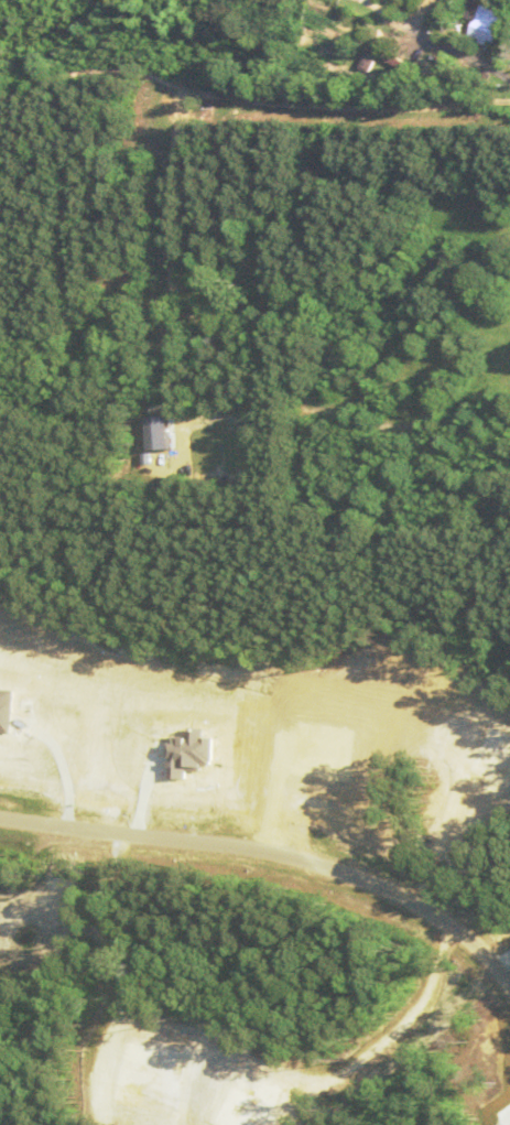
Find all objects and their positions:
road: (388, 12)
building: (486, 22)
road: (463, 52)
road: (272, 856)

